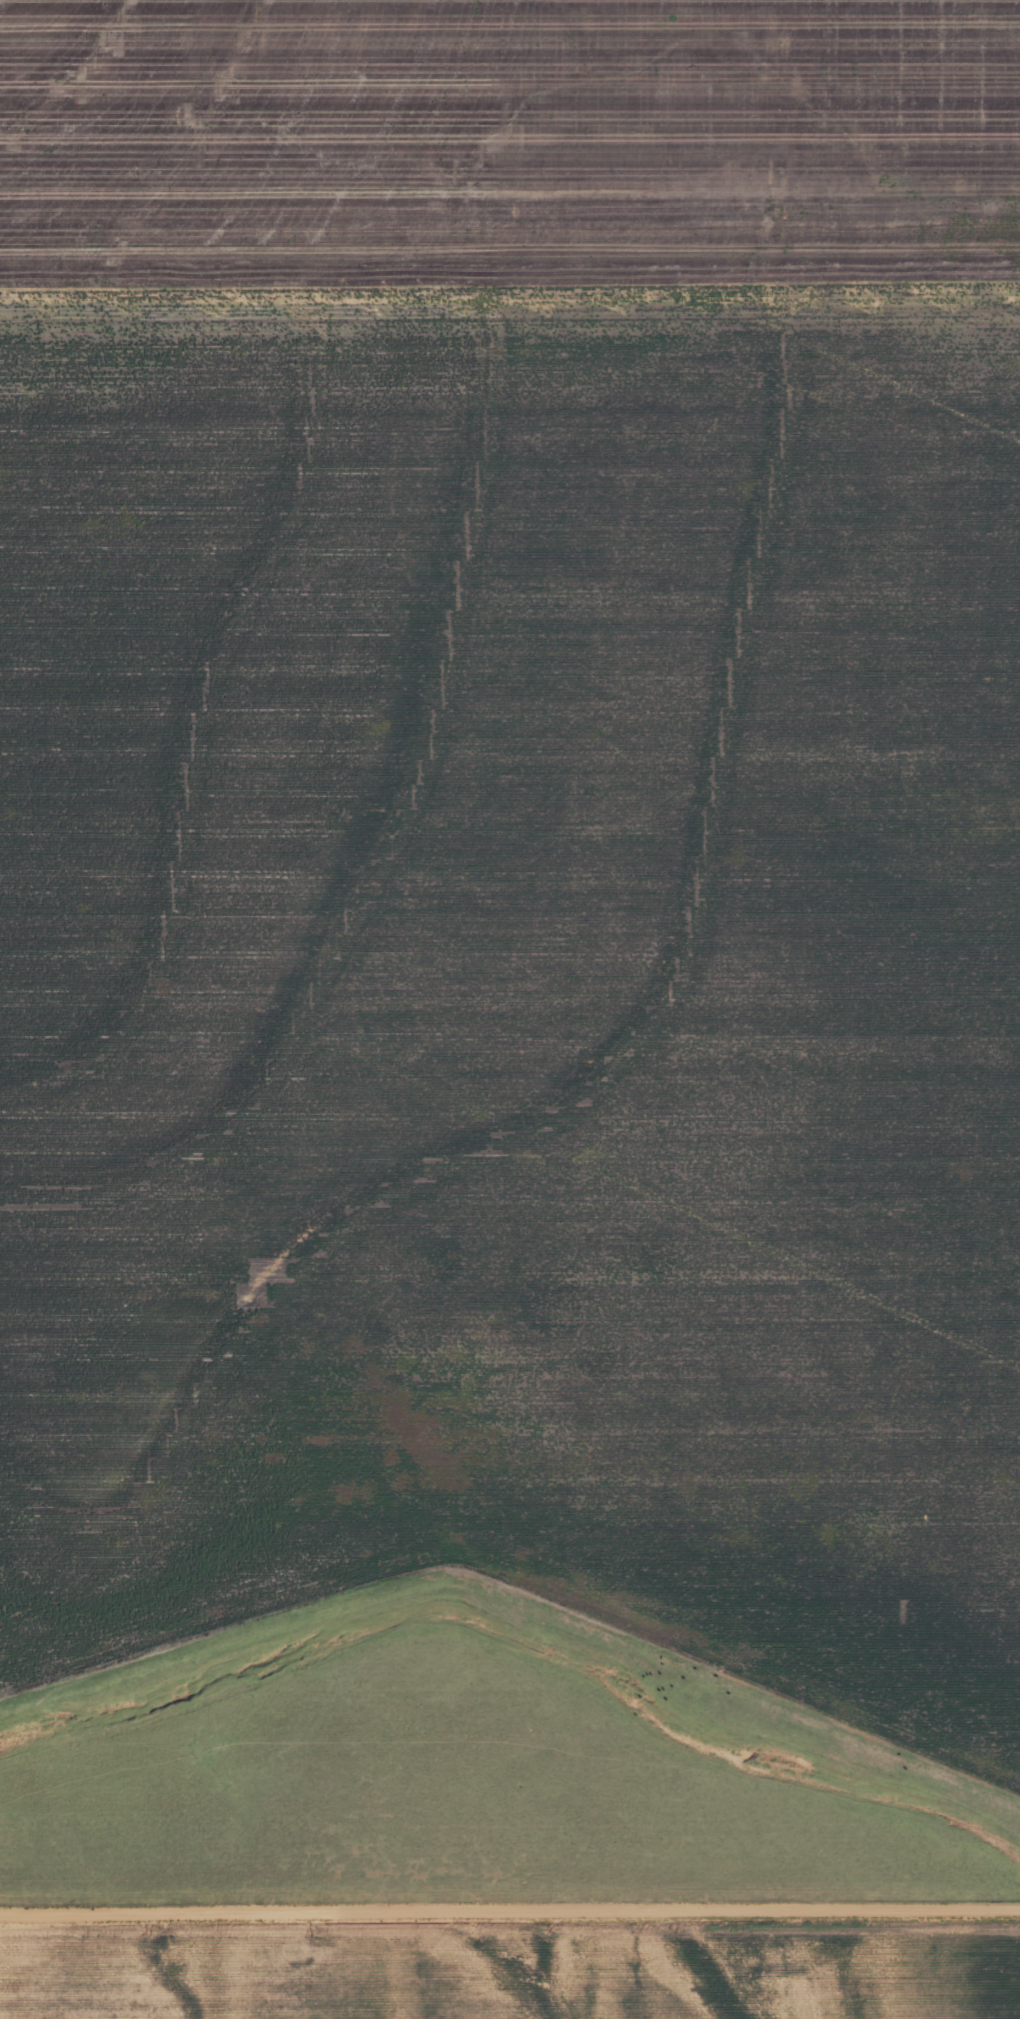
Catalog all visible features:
road: (509, 1912)

